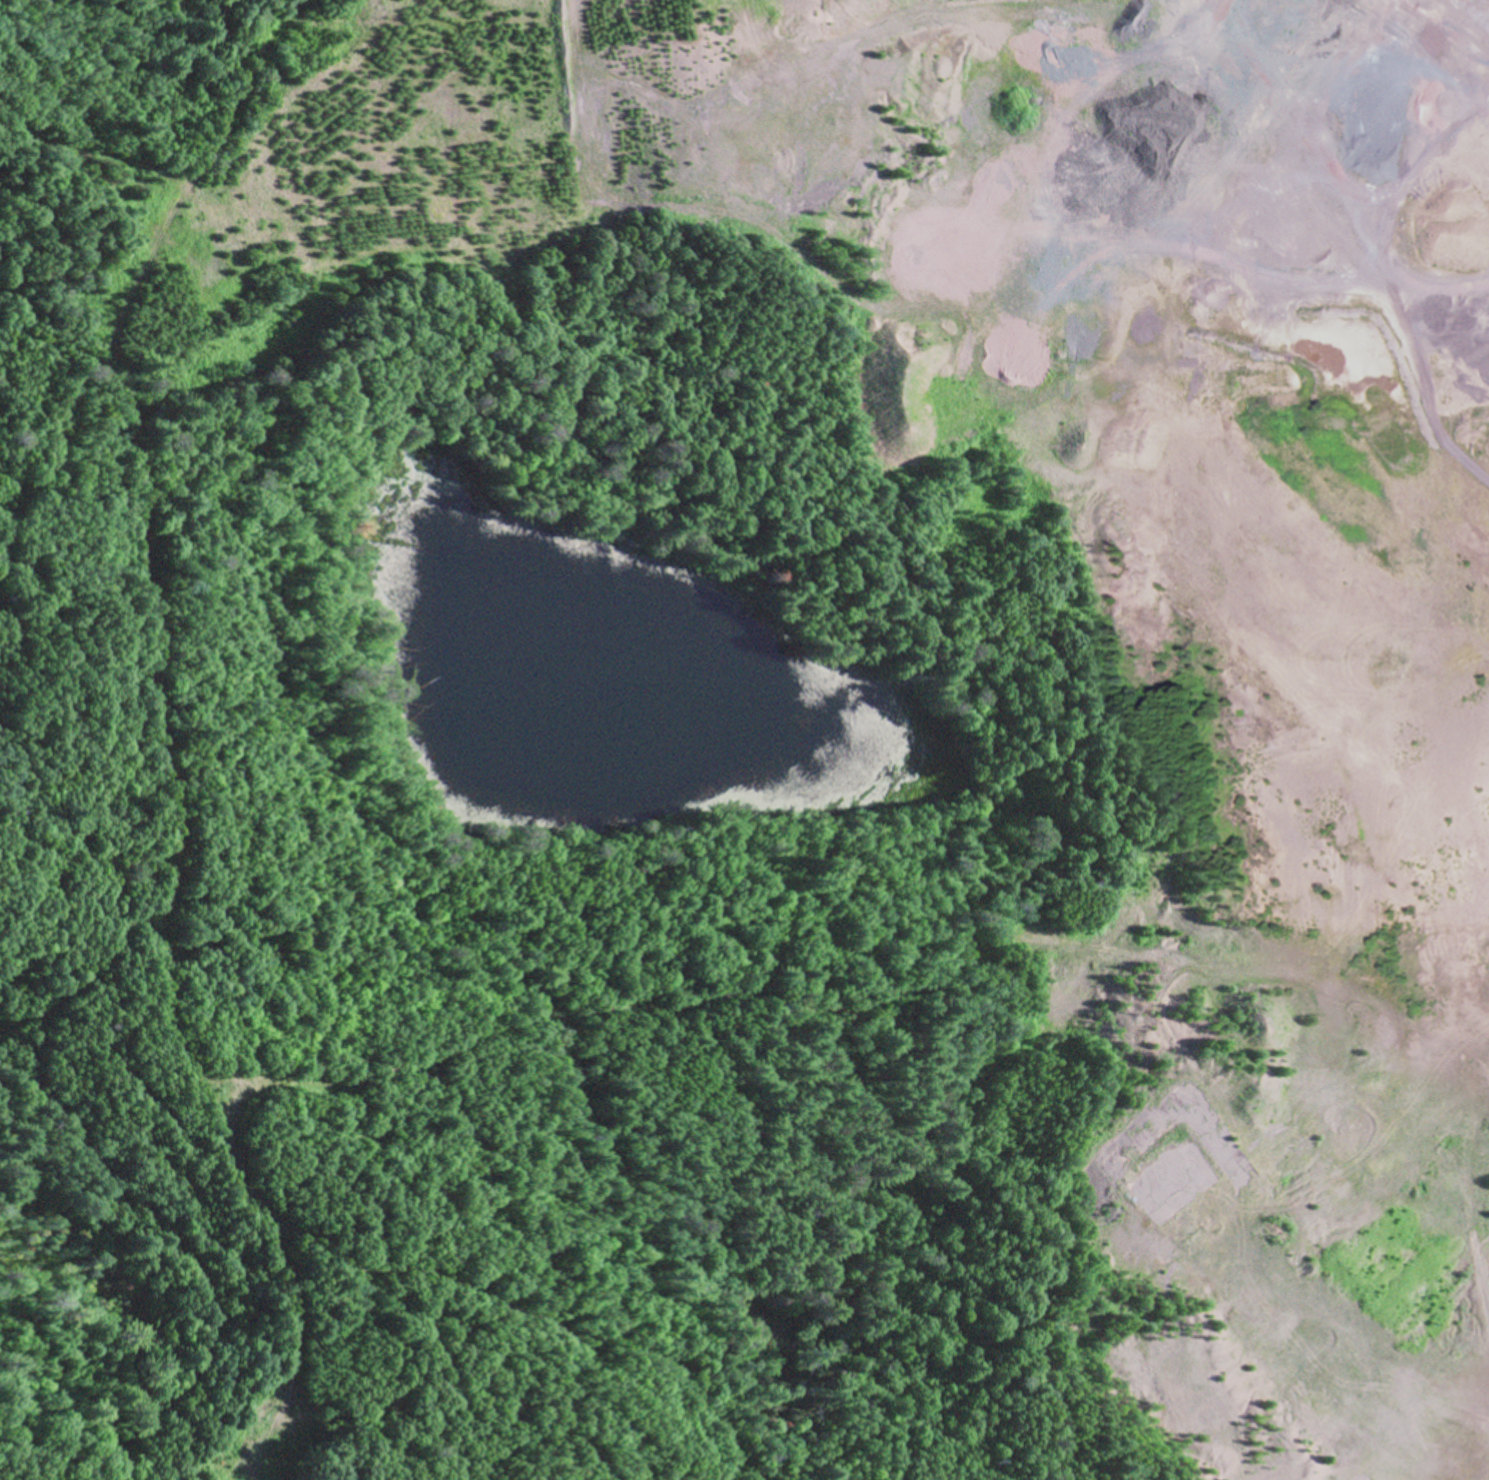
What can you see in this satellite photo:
road: (1357, 260)
quarry: (1081, 569)
road: (161, 734)
quarry: (744, 740)

